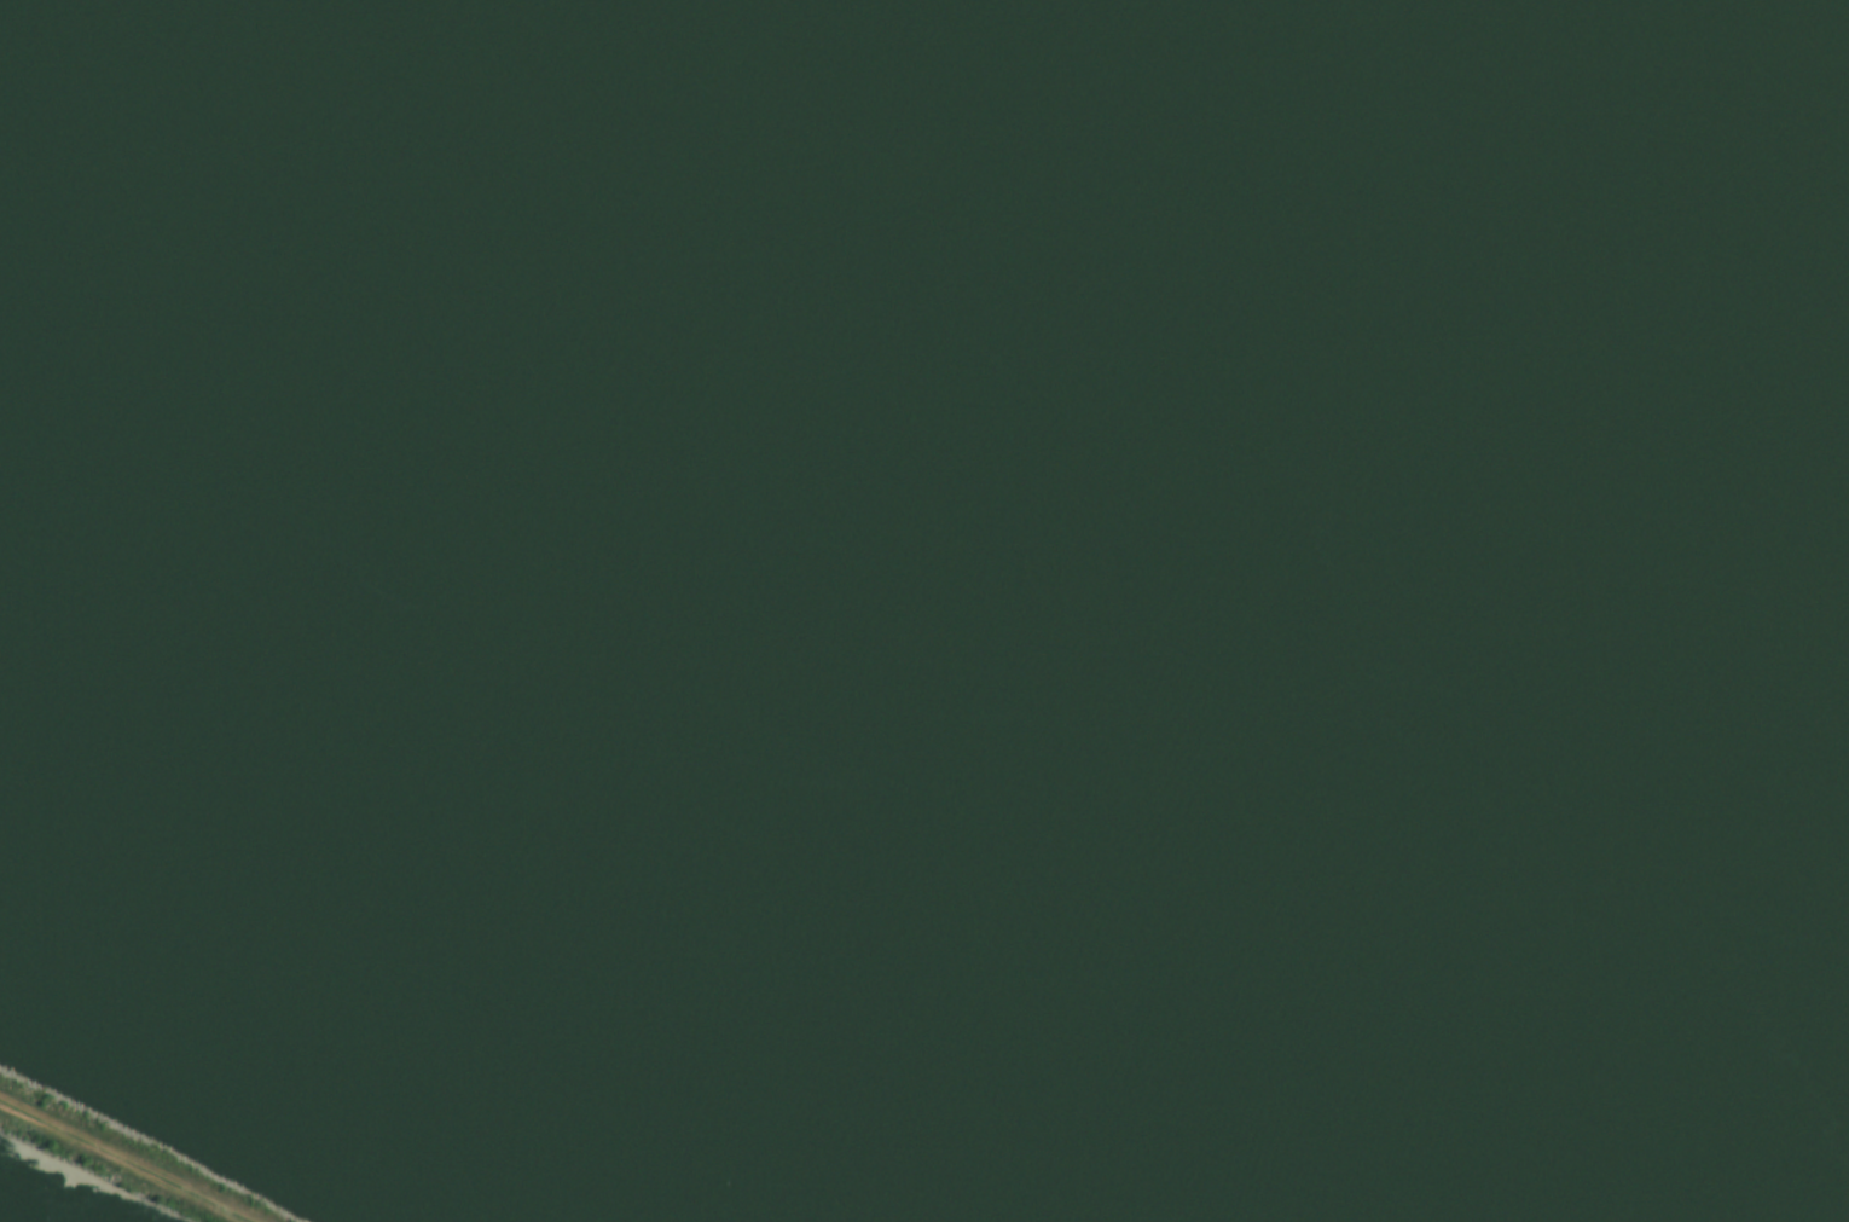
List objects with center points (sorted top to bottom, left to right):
road: (116, 1166)

